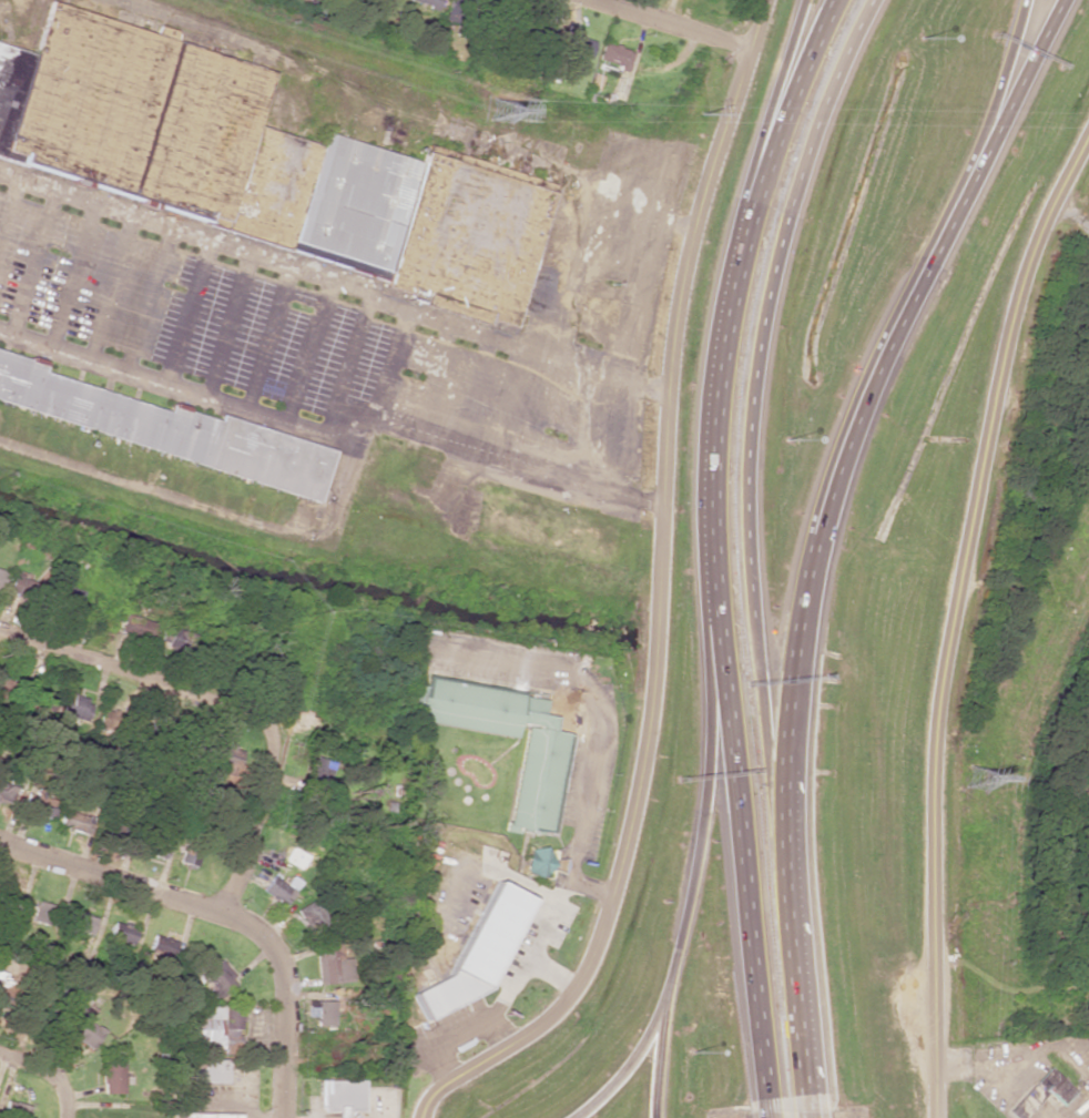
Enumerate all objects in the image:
building: (427, 2)
road: (830, 7)
road: (831, 7)
road: (665, 24)
building: (573, 45)
building: (613, 55)
building: (10, 82)
road: (994, 99)
road: (770, 106)
power tower: (502, 113)
power tower: (701, 116)
building: (155, 124)
building: (414, 224)
road: (775, 274)
building: (161, 421)
road: (855, 439)
road: (714, 542)
building: (1, 577)
building: (22, 586)
road: (657, 596)
building: (68, 601)
road: (954, 617)
building: (139, 627)
building: (77, 704)
road: (228, 704)
building: (113, 720)
road: (764, 740)
building: (536, 783)
power tower: (974, 783)
building: (4, 793)
building: (40, 803)
building: (75, 822)
road: (701, 826)
building: (189, 857)
building: (538, 862)
road: (110, 877)
building: (277, 890)
building: (45, 912)
building: (313, 912)
building: (82, 923)
building: (475, 953)
building: (215, 975)
road: (282, 999)
road: (795, 1002)
building: (320, 1012)
building: (84, 1027)
building: (216, 1029)
road: (660, 1048)
building: (206, 1070)
road: (48, 1071)
building: (112, 1076)
building: (1045, 1089)
building: (340, 1096)
road: (770, 1101)
road: (804, 1102)
building: (13, 1110)

